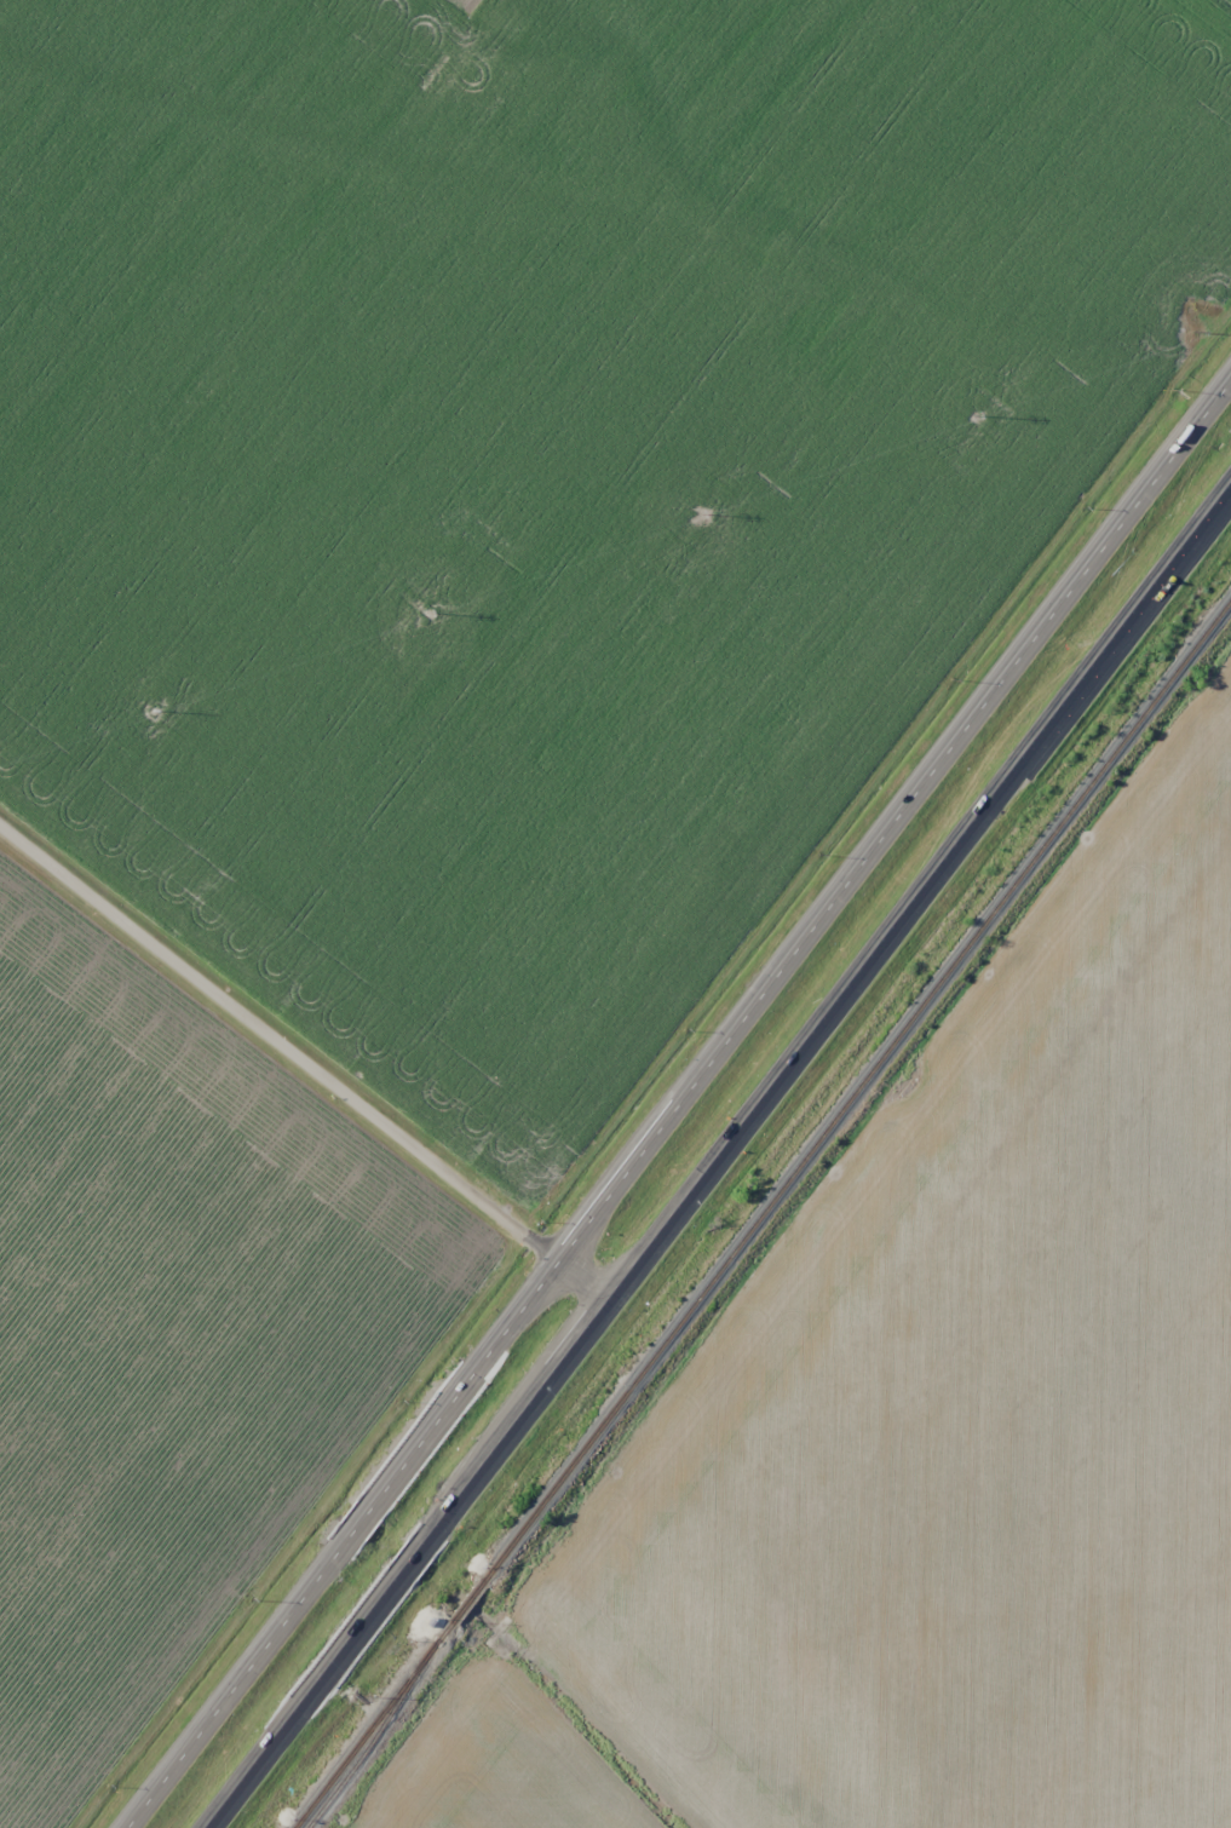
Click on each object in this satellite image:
road: (305, 1067)
road: (675, 1105)
railway: (828, 1126)
road: (719, 1166)
railway: (359, 1741)
railway: (370, 1743)

